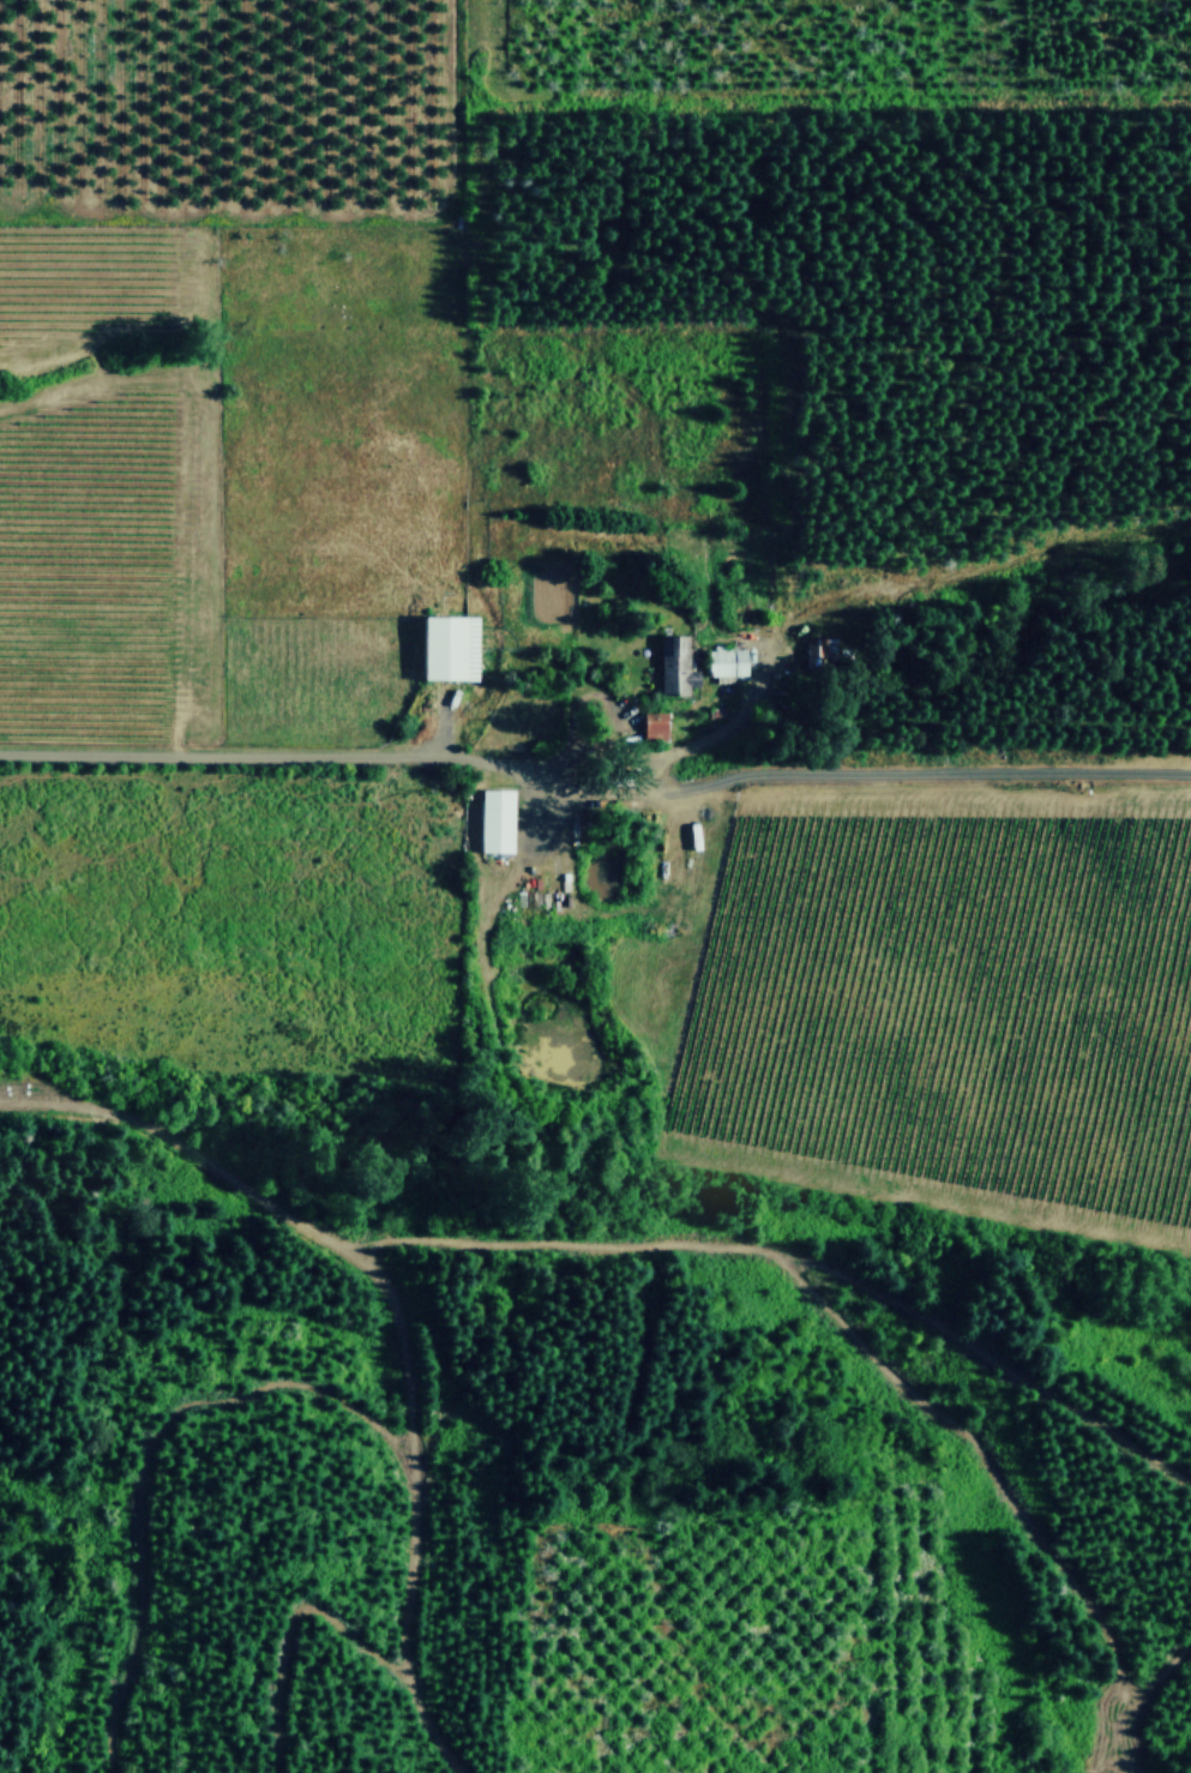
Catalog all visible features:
building: (822, 649)
building: (726, 660)
building: (675, 665)
building: (655, 726)
road: (290, 756)
building: (495, 821)

